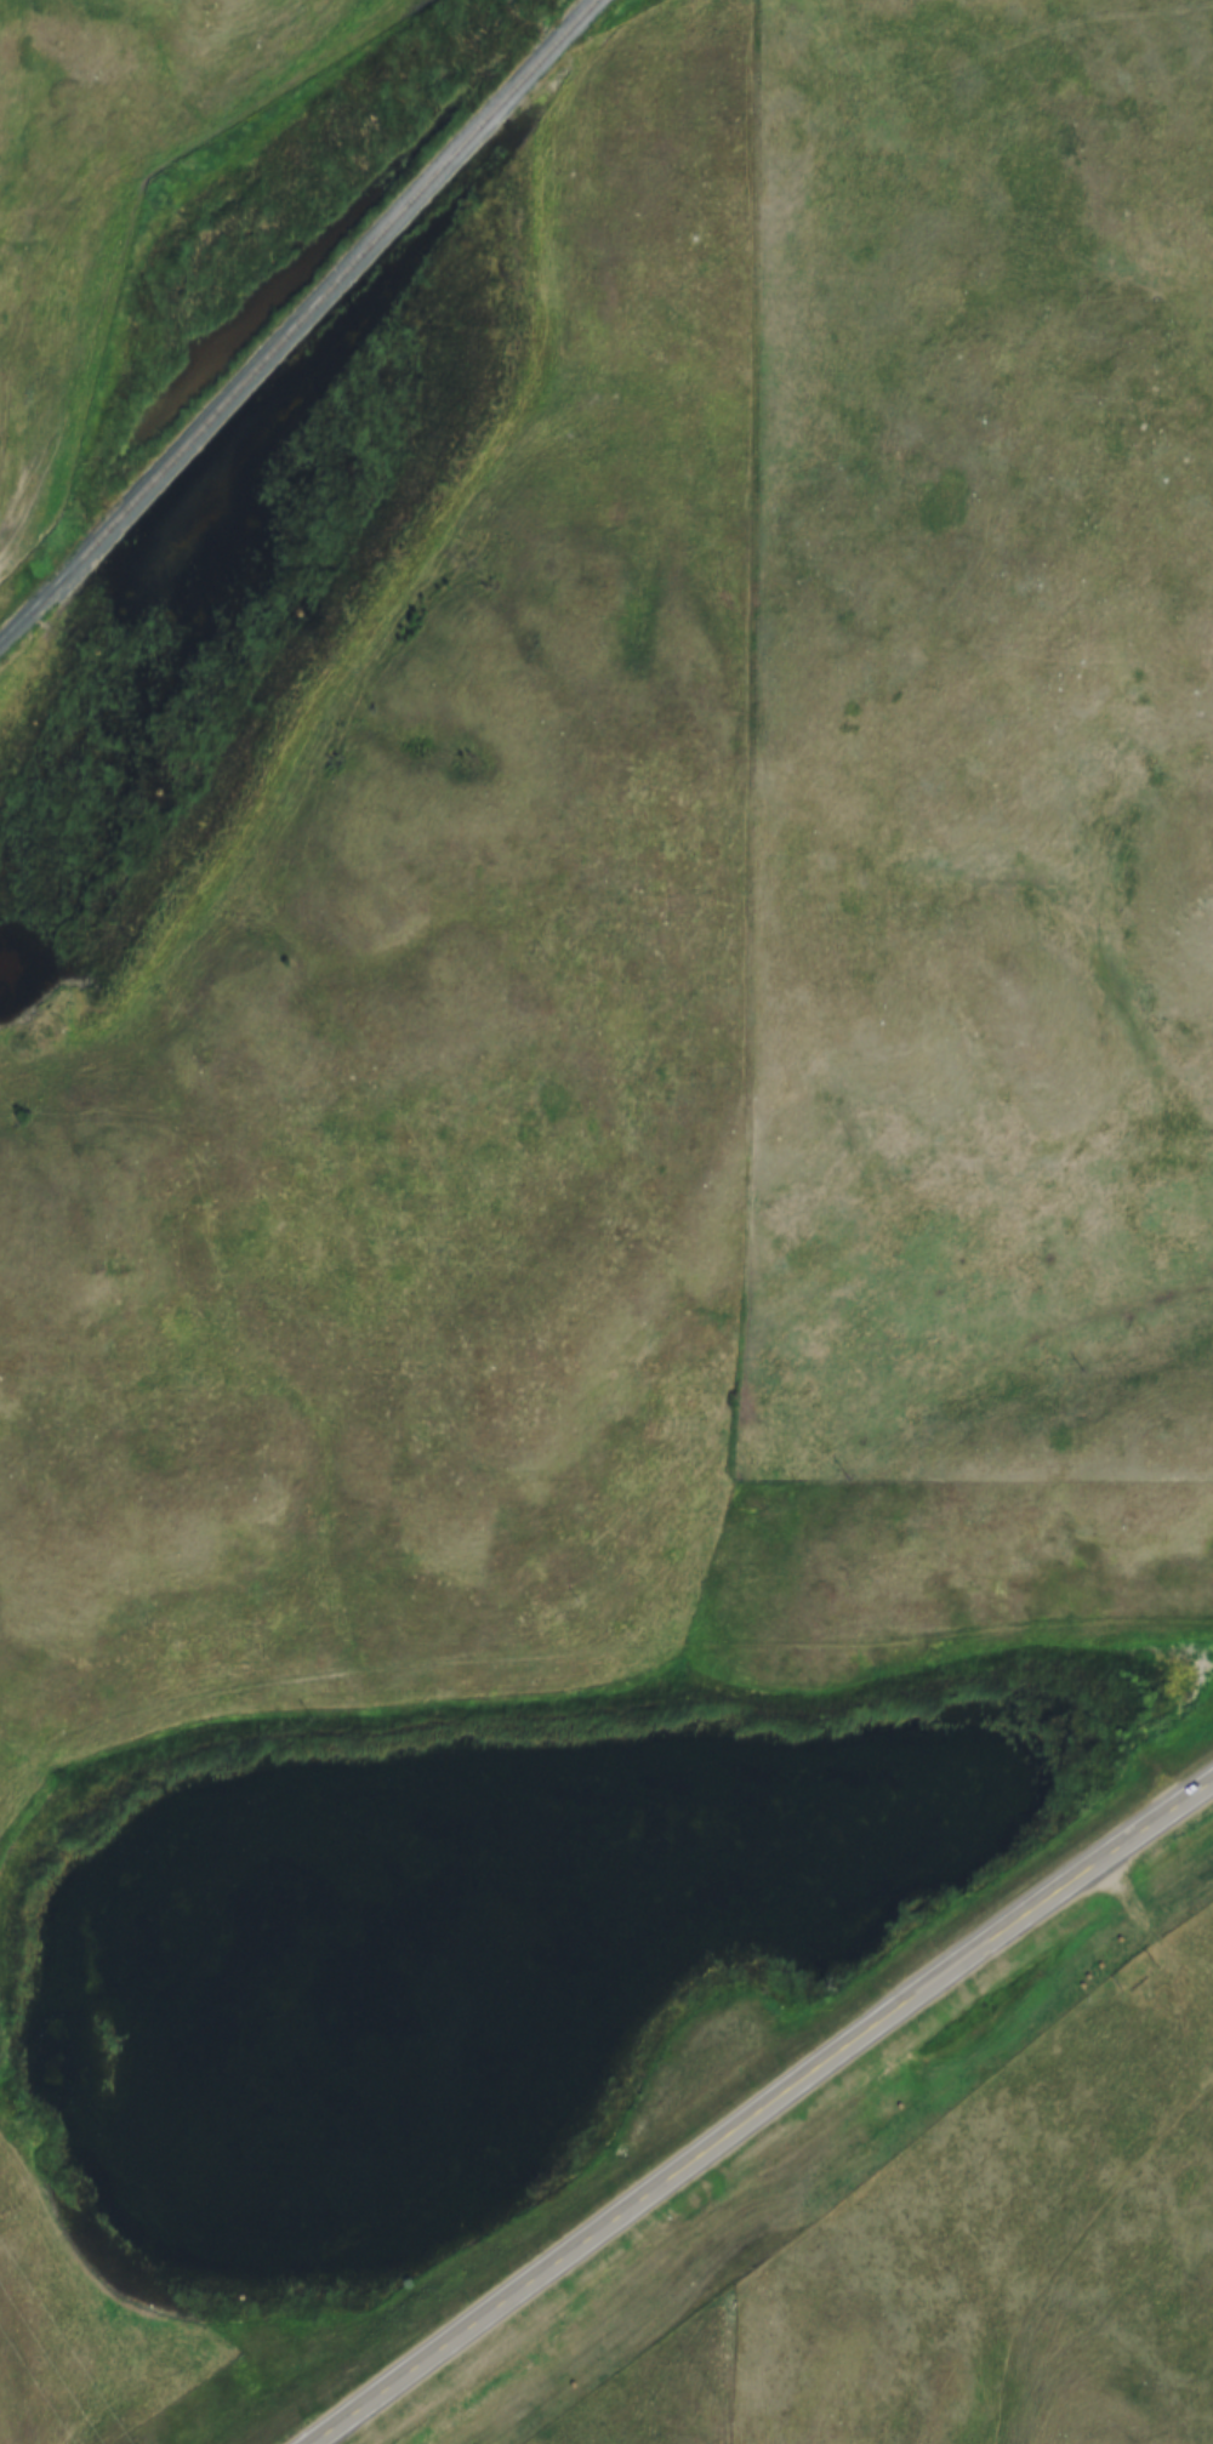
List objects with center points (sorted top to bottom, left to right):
railway: (303, 325)
road: (767, 2109)

